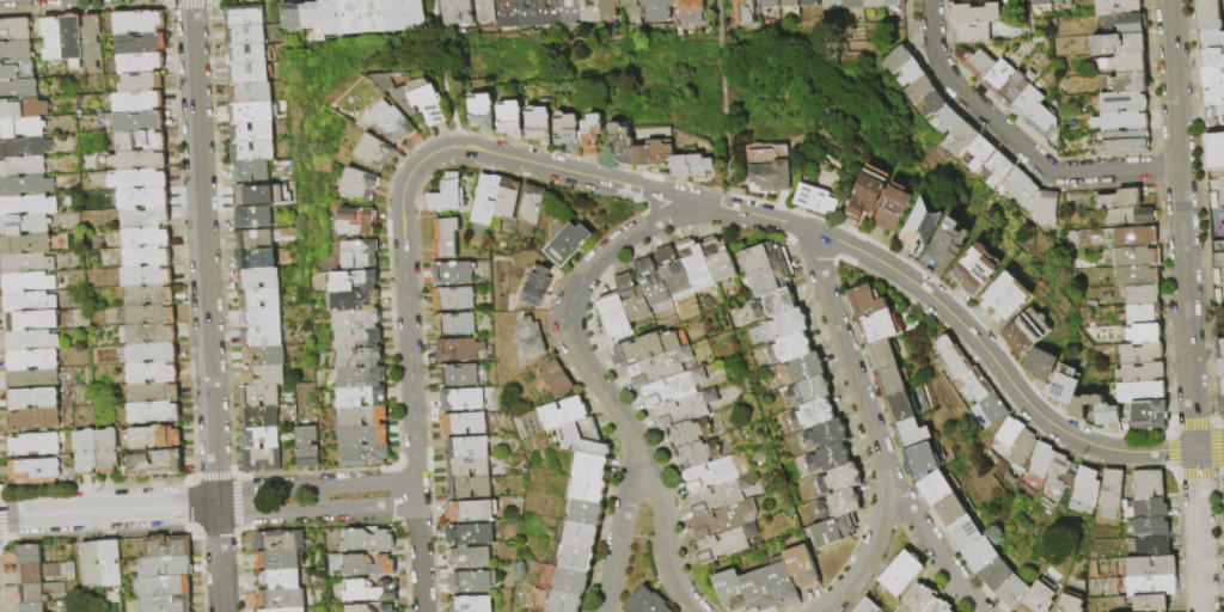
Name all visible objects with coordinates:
road: (165, 0)
road: (208, 1)
building: (804, 2)
building: (888, 2)
building: (1036, 2)
building: (1049, 2)
road: (167, 4)
road: (189, 4)
building: (764, 4)
building: (783, 4)
building: (846, 4)
building: (868, 4)
building: (826, 5)
building: (624, 7)
building: (1113, 7)
building: (601, 8)
building: (650, 10)
building: (479, 11)
building: (582, 11)
building: (685, 11)
building: (452, 12)
building: (561, 12)
building: (738, 12)
building: (500, 13)
building: (521, 13)
building: (541, 13)
building: (969, 13)
building: (1204, 14)
building: (241, 16)
building: (302, 16)
building: (385, 16)
building: (405, 16)
building: (343, 17)
building: (365, 17)
building: (283, 18)
building: (323, 18)
building: (140, 23)
building: (1126, 24)
building: (16, 30)
building: (966, 32)
building: (243, 35)
building: (54, 38)
building: (73, 39)
building: (1208, 39)
building: (92, 42)
building: (141, 44)
building: (1116, 44)
building: (1223, 49)
building: (16, 51)
building: (244, 54)
building: (1208, 57)
building: (891, 60)
building: (974, 61)
building: (141, 63)
building: (1122, 63)
building: (17, 71)
building: (245, 73)
building: (905, 73)
building: (994, 74)
building: (1210, 78)
building: (141, 82)
building: (1126, 82)
building: (1009, 86)
building: (19, 90)
building: (913, 90)
building: (246, 92)
park: (720, 94)
building: (1211, 97)
building: (1023, 100)
building: (139, 102)
building: (417, 102)
building: (1119, 103)
building: (928, 104)
building: (235, 108)
building: (477, 109)
building: (23, 110)
building: (1212, 116)
building: (507, 117)
building: (1036, 117)
building: (390, 121)
building: (943, 121)
building: (140, 122)
building: (1118, 122)
building: (535, 124)
building: (22, 128)
building: (564, 129)
building: (588, 129)
building: (249, 131)
building: (957, 137)
building: (141, 141)
road: (1015, 141)
building: (1118, 141)
building: (25, 147)
building: (636, 148)
building: (250, 151)
building: (371, 151)
building: (1214, 151)
building: (975, 154)
building: (139, 161)
building: (690, 164)
building: (23, 167)
building: (766, 167)
building: (249, 170)
building: (993, 170)
building: (140, 180)
building: (359, 184)
building: (25, 186)
building: (1017, 190)
building: (250, 194)
building: (446, 194)
building: (862, 195)
building: (812, 197)
building: (145, 200)
building: (484, 200)
building: (504, 200)
building: (1118, 200)
building: (27, 206)
building: (528, 207)
park: (1216, 208)
building: (1042, 209)
building: (891, 210)
building: (251, 216)
building: (1127, 216)
building: (146, 218)
building: (354, 220)
building: (25, 225)
building: (918, 227)
building: (1134, 237)
building: (147, 238)
building: (251, 239)
building: (442, 239)
building: (565, 243)
building: (26, 245)
building: (941, 249)
building: (353, 255)
building: (760, 256)
building: (1134, 256)
building: (148, 257)
road: (871, 257)
building: (716, 258)
building: (253, 259)
building: (693, 262)
building: (27, 263)
building: (973, 268)
building: (449, 274)
building: (672, 274)
building: (1136, 275)
building: (146, 277)
building: (256, 277)
building: (767, 277)
park: (1217, 280)
building: (27, 282)
building: (343, 282)
building: (537, 284)
building: (651, 286)
road: (405, 293)
building: (1140, 294)
building: (151, 296)
building: (257, 296)
building: (453, 298)
building: (1003, 298)
building: (631, 299)
building: (864, 300)
building: (348, 301)
building: (29, 302)
building: (772, 302)
road: (204, 305)
road: (1186, 305)
road: (568, 312)
building: (1142, 313)
building: (612, 314)
building: (147, 316)
building: (258, 317)
building: (349, 320)
building: (32, 322)
building: (784, 323)
building: (455, 324)
building: (877, 325)
building: (1026, 331)
building: (1143, 333)
building: (148, 335)
building: (259, 336)
building: (532, 337)
building: (348, 339)
building: (31, 341)
building: (942, 343)
building: (647, 345)
building: (788, 347)
building: (1218, 348)
building: (449, 350)
building: (1139, 353)
building: (152, 354)
building: (879, 354)
building: (262, 355)
building: (32, 360)
building: (349, 360)
building: (951, 362)
building: (1041, 363)
building: (657, 366)
building: (800, 367)
building: (1218, 368)
building: (1138, 372)
building: (154, 373)
building: (261, 374)
building: (457, 375)
building: (556, 377)
building: (351, 379)
building: (33, 380)
building: (891, 380)
building: (1063, 384)
building: (974, 385)
building: (671, 387)
building: (1218, 387)
building: (807, 388)
building: (1138, 391)
building: (153, 393)
building: (258, 394)
building: (353, 398)
building: (35, 399)
building: (457, 400)
building: (1082, 405)
building: (899, 406)
building: (1219, 406)
building: (683, 408)
building: (991, 409)
building: (155, 412)
building: (810, 412)
building: (559, 414)
building: (1104, 415)
building: (256, 416)
building: (1142, 416)
building: (354, 417)
building: (35, 420)
building: (459, 424)
road: (871, 428)
building: (685, 432)
building: (1008, 432)
building: (824, 433)
building: (910, 433)
building: (355, 437)
building: (152, 439)
building: (582, 439)
building: (249, 442)
building: (36, 445)
building: (304, 446)
building: (1021, 447)
building: (464, 449)
building: (86, 452)
building: (109, 452)
building: (694, 453)
building: (356, 457)
building: (826, 457)
building: (923, 458)
building: (1040, 458)
building: (258, 459)
building: (155, 463)
building: (589, 466)
building: (465, 470)
building: (37, 471)
building: (712, 471)
building: (1055, 472)
building: (838, 477)
building: (1145, 482)
building: (1223, 482)
building: (1083, 483)
road: (314, 484)
building: (932, 486)
building: (465, 489)
building: (587, 489)
building: (1110, 490)
road: (416, 492)
building: (716, 495)
road: (626, 502)
building: (838, 502)
building: (1223, 504)
road: (660, 506)
building: (1147, 506)
road: (108, 508)
building: (951, 508)
road: (314, 512)
building: (586, 512)
building: (467, 513)
building: (721, 518)
park: (642, 521)
building: (1149, 525)
building: (825, 531)
building: (963, 532)
building: (580, 534)
building: (467, 535)
building: (362, 540)
building: (281, 541)
building: (722, 543)
building: (1151, 544)
building: (169, 547)
road: (936, 547)
building: (979, 553)
building: (31, 555)
building: (575, 557)
road: (420, 558)
building: (471, 558)
building: (279, 561)
building: (112, 563)
building: (93, 564)
building: (1150, 564)
building: (801, 565)
building: (166, 567)
building: (363, 567)
building: (38, 573)
road: (611, 573)
building: (900, 573)
building: (993, 573)
building: (564, 580)
road: (674, 580)
building: (280, 581)
building: (779, 581)
building: (467, 583)
building: (1149, 583)
building: (166, 587)
building: (729, 589)
building: (757, 590)
building: (1011, 590)
building: (41, 592)
building: (362, 592)
building: (1038, 598)
building: (281, 599)
building: (916, 599)
building: (556, 600)
building: (1071, 601)
building: (645, 602)
building: (1149, 602)
building: (167, 604)
building: (469, 605)
building: (865, 606)
building: (935, 606)
building: (33, 607)
building: (381, 608)
building: (288, 610)
building: (354, 610)

